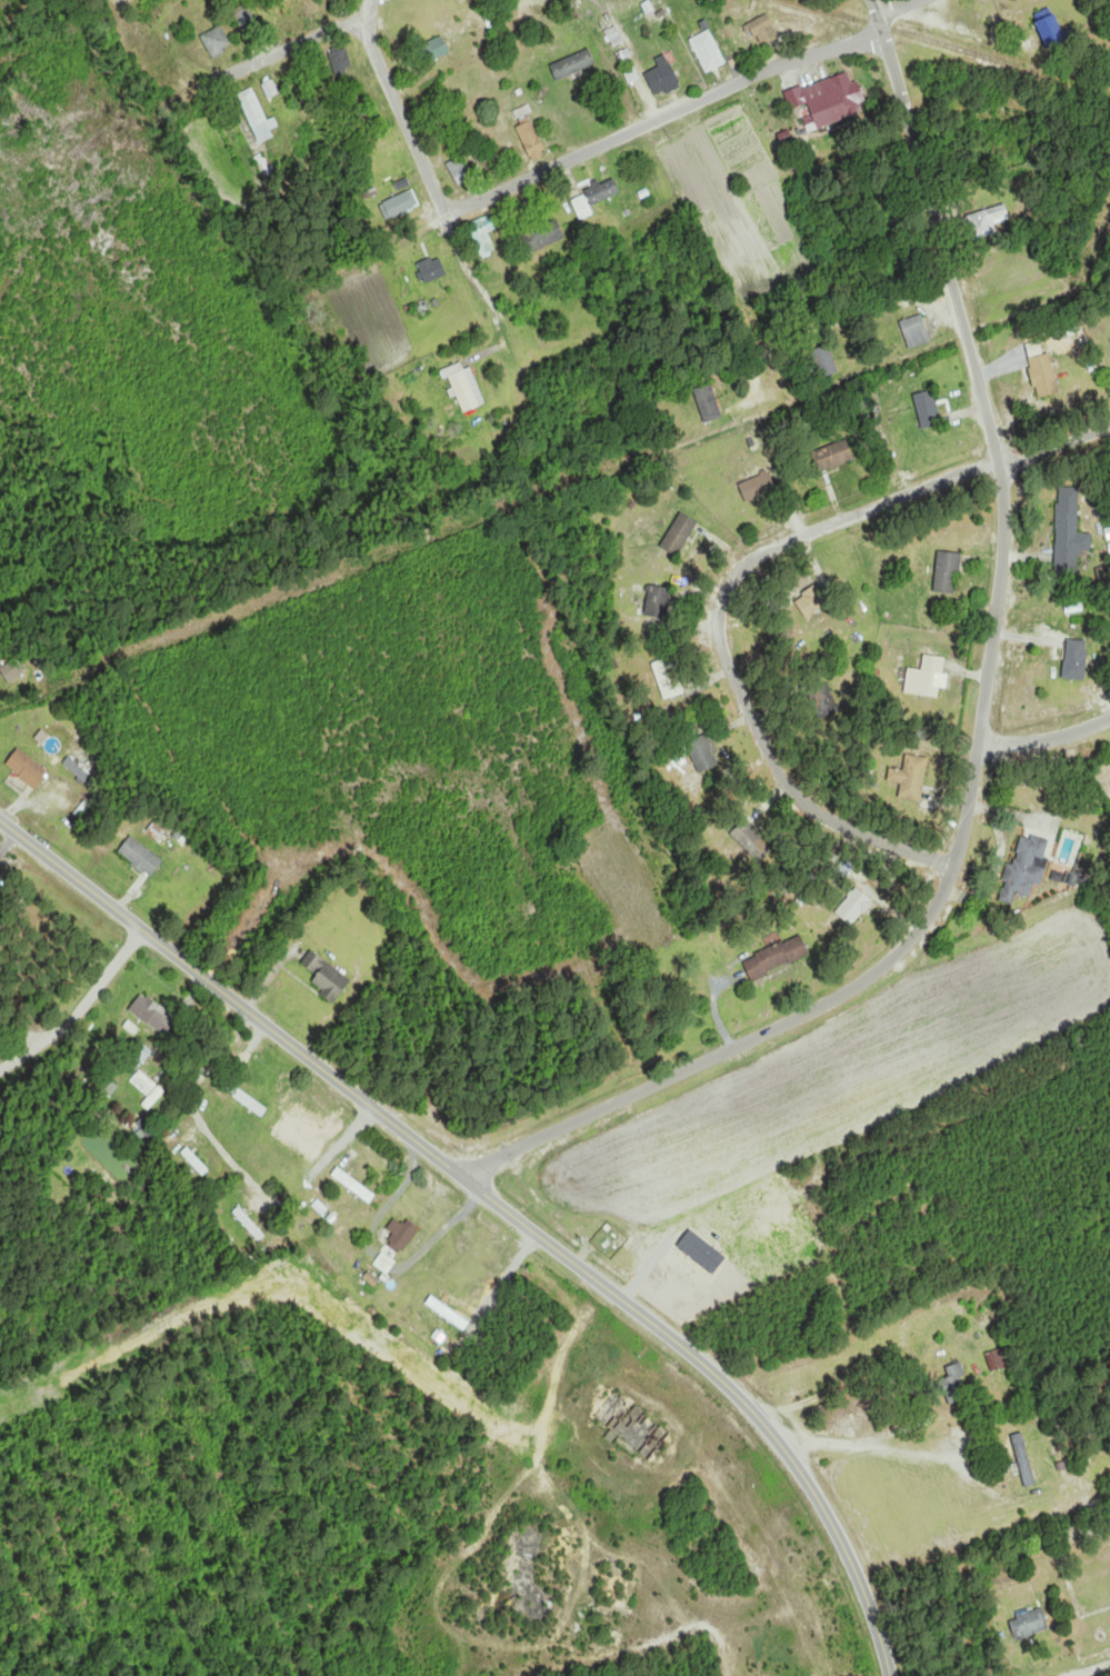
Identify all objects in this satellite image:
road: (898, 8)
building: (247, 22)
building: (763, 28)
building: (1052, 31)
building: (217, 41)
road: (297, 44)
railway: (950, 46)
building: (436, 48)
building: (708, 50)
building: (573, 63)
building: (663, 76)
building: (271, 89)
building: (834, 100)
road: (399, 104)
building: (256, 116)
road: (663, 117)
building: (531, 139)
building: (461, 171)
building: (603, 190)
building: (400, 203)
building: (582, 207)
building: (987, 219)
building: (483, 235)
building: (543, 235)
building: (432, 269)
building: (916, 331)
building: (823, 361)
building: (1043, 376)
building: (466, 387)
building: (708, 403)
building: (928, 410)
road: (1056, 449)
building: (834, 456)
building: (758, 488)
road: (1003, 490)
building: (1070, 530)
building: (679, 533)
building: (948, 572)
building: (658, 601)
building: (811, 601)
road: (720, 636)
building: (1076, 659)
building: (931, 676)
building: (668, 678)
road: (1046, 737)
building: (702, 755)
building: (27, 769)
building: (910, 778)
building: (156, 831)
building: (752, 842)
building: (140, 856)
building: (1029, 865)
building: (1078, 879)
building: (854, 907)
building: (777, 957)
building: (326, 976)
road: (233, 1000)
road: (82, 1011)
building: (152, 1016)
building: (139, 1055)
road: (674, 1075)
building: (147, 1088)
building: (246, 1099)
building: (299, 1144)
building: (194, 1161)
building: (353, 1185)
building: (248, 1225)
building: (384, 1264)
building: (448, 1314)
building: (1000, 1360)
building: (956, 1385)
road: (730, 1389)
building: (630, 1426)
building: (1024, 1460)
building: (1030, 1624)
road: (1087, 1666)

